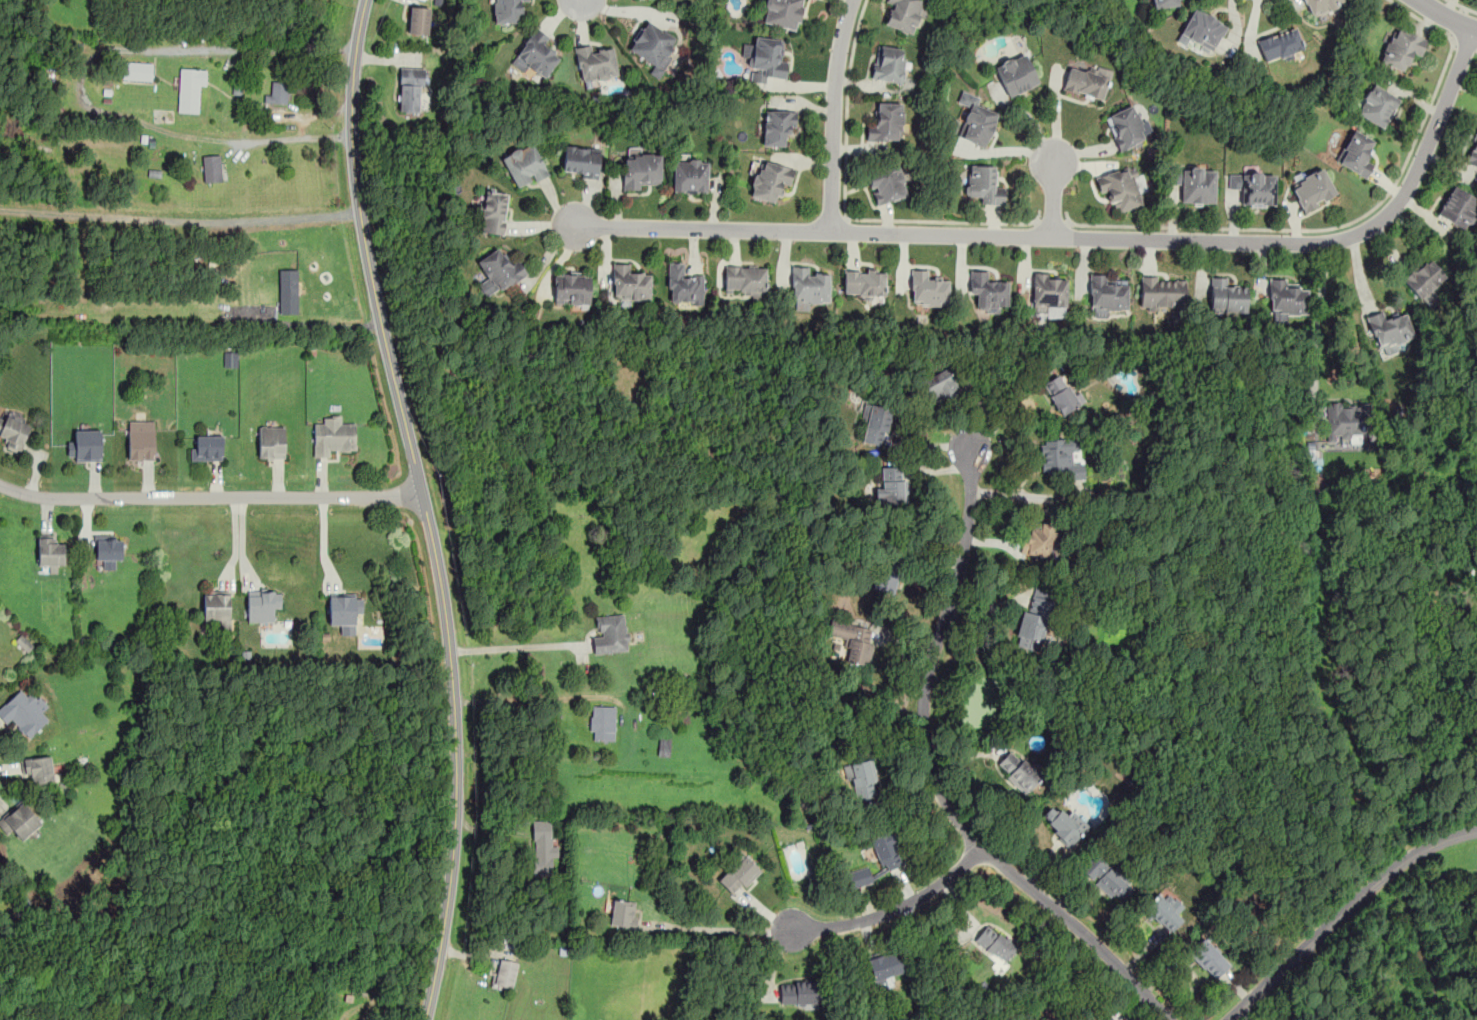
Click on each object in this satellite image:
building: (1164, 3)
building: (1321, 6)
road: (1463, 6)
building: (508, 11)
building: (782, 13)
building: (903, 14)
road: (1446, 17)
building: (419, 19)
road: (1421, 20)
road: (1457, 21)
building: (1202, 31)
road: (1465, 43)
building: (654, 45)
building: (1280, 45)
road: (112, 50)
building: (1402, 50)
building: (537, 55)
building: (766, 59)
building: (595, 63)
building: (888, 63)
building: (137, 70)
building: (1016, 73)
building: (1085, 82)
building: (411, 87)
building: (190, 88)
building: (239, 89)
building: (277, 92)
building: (1377, 105)
road: (833, 114)
building: (885, 123)
building: (978, 126)
building: (777, 127)
building: (1125, 128)
road: (295, 139)
building: (1356, 153)
building: (1473, 154)
building: (581, 162)
building: (524, 165)
building: (212, 168)
building: (641, 172)
building: (690, 176)
building: (769, 181)
building: (1195, 184)
building: (887, 185)
building: (984, 185)
building: (1253, 187)
building: (1312, 189)
building: (1121, 190)
road: (1054, 196)
building: (1458, 206)
road: (843, 208)
building: (493, 212)
road: (179, 220)
road: (1053, 221)
road: (1311, 230)
road: (1087, 237)
building: (498, 272)
building: (1425, 278)
building: (745, 280)
building: (629, 284)
building: (864, 284)
building: (684, 285)
building: (809, 286)
building: (571, 288)
building: (928, 290)
building: (289, 291)
building: (988, 292)
building: (1162, 292)
building: (1048, 293)
building: (1106, 296)
building: (1225, 296)
building: (1285, 299)
building: (1430, 299)
road: (1317, 321)
building: (1389, 328)
building: (938, 387)
building: (1061, 394)
road: (1005, 414)
building: (1346, 420)
building: (877, 425)
building: (13, 431)
building: (332, 435)
building: (140, 440)
building: (271, 442)
building: (85, 445)
building: (206, 447)
building: (1061, 458)
building: (892, 485)
road: (210, 495)
road: (426, 507)
building: (1037, 538)
road: (234, 543)
building: (108, 549)
building: (51, 553)
building: (888, 575)
building: (262, 604)
building: (217, 608)
building: (344, 611)
building: (1034, 617)
building: (611, 633)
building: (851, 638)
building: (24, 643)
road: (514, 647)
road: (534, 697)
building: (24, 711)
building: (602, 723)
building: (664, 745)
building: (39, 769)
building: (1019, 770)
building: (863, 778)
road: (935, 779)
building: (20, 819)
building: (1064, 824)
building: (542, 847)
building: (886, 850)
building: (738, 874)
building: (857, 876)
building: (1108, 876)
road: (893, 910)
road: (1344, 911)
building: (1168, 912)
building: (623, 913)
road: (717, 927)
building: (994, 944)
building: (1209, 957)
building: (884, 966)
building: (505, 973)
building: (799, 992)
building: (1112, 1016)

